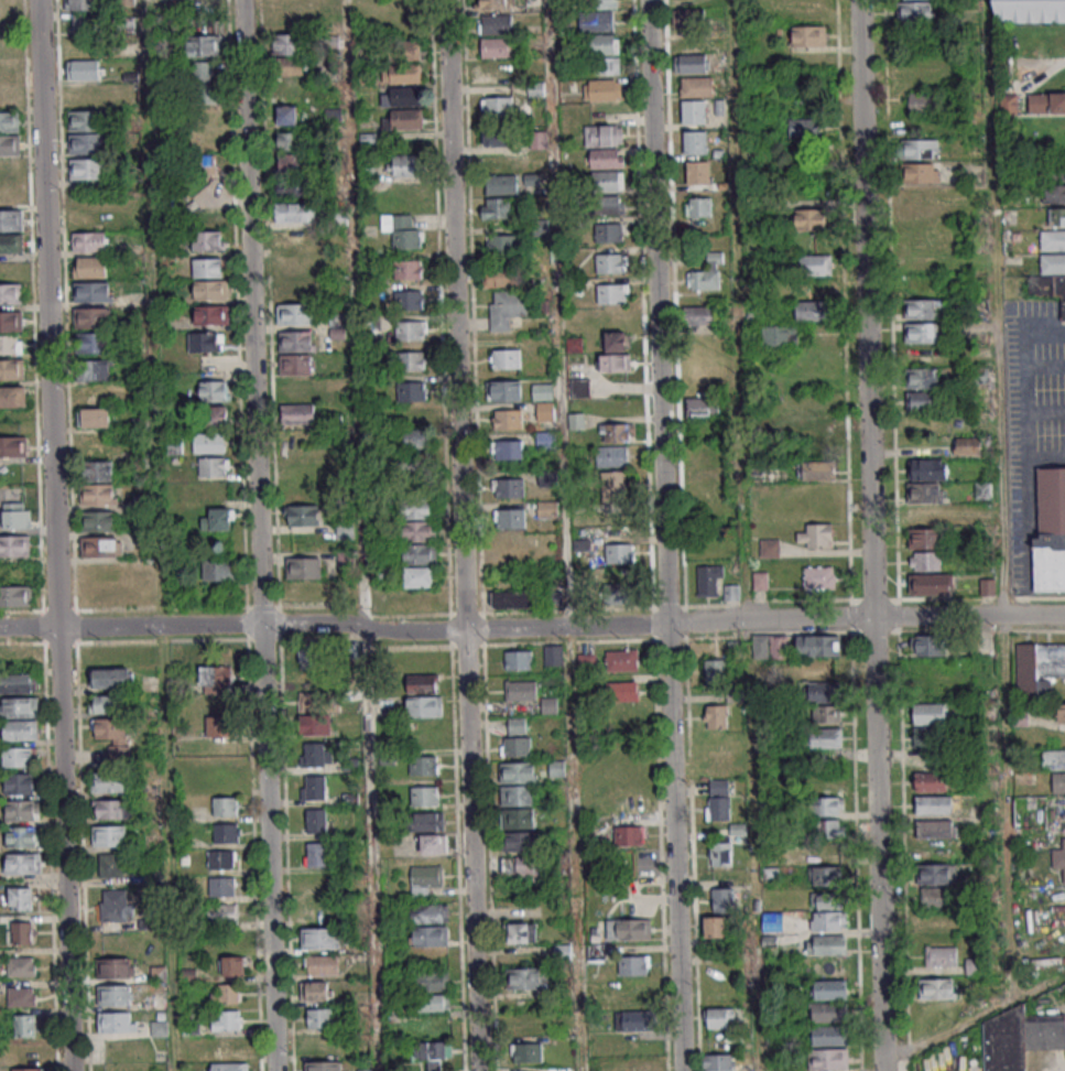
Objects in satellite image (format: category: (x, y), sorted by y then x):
building: (493, 3)
building: (605, 3)
building: (81, 4)
building: (1030, 11)
building: (912, 12)
building: (687, 19)
building: (595, 22)
building: (89, 23)
building: (495, 25)
building: (807, 36)
building: (287, 43)
building: (204, 44)
building: (602, 45)
building: (496, 48)
building: (400, 52)
building: (688, 64)
building: (289, 66)
building: (607, 67)
building: (84, 69)
building: (495, 71)
building: (401, 75)
building: (204, 84)
building: (696, 88)
building: (601, 91)
building: (401, 98)
building: (1009, 102)
building: (1046, 102)
building: (923, 104)
building: (498, 108)
building: (693, 113)
building: (287, 115)
building: (207, 118)
building: (85, 120)
building: (402, 120)
building: (9, 121)
building: (803, 129)
building: (600, 136)
building: (289, 140)
building: (496, 140)
building: (9, 143)
building: (85, 143)
building: (694, 143)
building: (921, 150)
building: (605, 160)
building: (294, 162)
building: (498, 162)
building: (203, 164)
building: (405, 165)
building: (87, 167)
building: (366, 169)
building: (1054, 171)
building: (921, 172)
building: (696, 174)
building: (604, 182)
building: (499, 185)
building: (209, 188)
building: (915, 194)
building: (1054, 194)
building: (10, 195)
building: (605, 206)
building: (699, 207)
building: (496, 209)
building: (292, 212)
building: (1055, 216)
building: (11, 220)
building: (812, 220)
building: (401, 231)
building: (608, 234)
building: (207, 240)
building: (89, 241)
building: (1052, 241)
building: (11, 242)
building: (502, 246)
building: (609, 264)
building: (1052, 264)
building: (90, 267)
building: (208, 267)
building: (814, 267)
building: (406, 270)
building: (497, 278)
building: (704, 281)
building: (296, 290)
building: (91, 291)
building: (209, 292)
building: (11, 293)
building: (609, 295)
building: (407, 301)
road: (32, 304)
road: (65, 305)
building: (509, 309)
building: (921, 310)
building: (812, 312)
building: (211, 314)
building: (700, 314)
building: (293, 315)
road: (455, 315)
building: (93, 317)
road: (236, 318)
building: (10, 321)
road: (439, 323)
building: (337, 326)
building: (409, 332)
building: (920, 335)
building: (779, 336)
building: (205, 342)
building: (617, 342)
building: (94, 343)
building: (294, 343)
building: (10, 344)
building: (922, 354)
building: (506, 360)
building: (615, 361)
building: (410, 363)
building: (294, 366)
building: (11, 368)
building: (94, 369)
building: (921, 379)
building: (580, 388)
building: (214, 390)
building: (542, 390)
building: (410, 392)
building: (506, 392)
building: (12, 396)
building: (922, 402)
building: (702, 408)
road: (475, 409)
building: (545, 411)
building: (298, 414)
building: (94, 416)
building: (216, 416)
building: (577, 420)
building: (508, 421)
building: (140, 422)
building: (814, 426)
building: (617, 432)
building: (417, 439)
building: (546, 439)
building: (209, 442)
building: (173, 445)
building: (969, 445)
building: (12, 446)
building: (504, 451)
building: (610, 457)
building: (412, 464)
building: (214, 466)
building: (928, 469)
building: (99, 470)
building: (817, 472)
building: (613, 488)
building: (509, 489)
building: (984, 490)
building: (98, 494)
road: (999, 500)
building: (546, 508)
building: (415, 510)
building: (17, 515)
building: (302, 515)
building: (925, 515)
building: (218, 519)
building: (98, 520)
building: (510, 520)
building: (416, 533)
building: (1050, 533)
road: (54, 535)
road: (157, 535)
road: (258, 535)
road: (360, 535)
road: (566, 535)
road: (664, 535)
road: (745, 535)
building: (815, 535)
road: (870, 535)
building: (14, 545)
building: (101, 545)
building: (769, 548)
building: (512, 551)
building: (620, 553)
building: (416, 555)
building: (925, 560)
building: (304, 567)
building: (218, 569)
building: (817, 578)
building: (417, 580)
building: (761, 580)
building: (709, 581)
building: (927, 586)
building: (987, 586)
building: (619, 593)
building: (731, 593)
building: (15, 595)
building: (511, 599)
road: (160, 608)
road: (968, 616)
road: (769, 620)
road: (246, 623)
road: (232, 625)
road: (75, 627)
road: (565, 627)
road: (279, 639)
road: (161, 640)
road: (567, 642)
building: (818, 645)
building: (927, 645)
building: (770, 646)
building: (553, 654)
building: (312, 656)
building: (517, 659)
building: (586, 660)
building: (621, 660)
building: (1037, 667)
building: (715, 670)
building: (215, 675)
building: (112, 677)
building: (18, 683)
building: (422, 683)
building: (622, 691)
building: (519, 692)
building: (822, 693)
building: (311, 701)
building: (104, 703)
building: (19, 706)
building: (424, 706)
building: (1061, 712)
building: (826, 713)
building: (927, 715)
building: (715, 716)
building: (315, 724)
building: (219, 725)
building: (20, 729)
building: (112, 735)
building: (517, 736)
building: (927, 738)
building: (824, 739)
building: (19, 757)
building: (312, 757)
building: (424, 765)
building: (1055, 767)
building: (515, 773)
building: (109, 781)
building: (19, 782)
building: (826, 782)
building: (930, 783)
building: (313, 789)
building: (424, 796)
building: (515, 797)
building: (718, 799)
building: (226, 805)
building: (828, 805)
building: (933, 807)
building: (22, 809)
building: (115, 809)
building: (515, 820)
building: (427, 821)
building: (314, 822)
building: (827, 829)
building: (933, 831)
building: (227, 832)
building: (109, 834)
building: (629, 834)
building: (21, 835)
building: (434, 843)
building: (517, 844)
road: (471, 851)
building: (827, 851)
building: (720, 853)
building: (315, 856)
road: (81, 857)
building: (221, 858)
road: (490, 858)
building: (1058, 859)
building: (23, 863)
building: (110, 864)
building: (524, 868)
building: (933, 873)
building: (826, 875)
building: (425, 877)
building: (221, 886)
building: (21, 897)
building: (936, 897)
building: (722, 898)
building: (115, 905)
building: (829, 911)
building: (221, 912)
building: (428, 913)
building: (772, 921)
building: (715, 926)
building: (628, 929)
building: (22, 932)
building: (522, 932)
building: (428, 935)
building: (319, 938)
building: (825, 946)
building: (562, 950)
building: (596, 953)
building: (941, 955)
building: (21, 965)
building: (232, 965)
building: (632, 965)
building: (322, 966)
building: (118, 967)
building: (526, 977)
building: (432, 981)
building: (937, 987)
building: (827, 992)
building: (227, 993)
building: (117, 994)
building: (313, 994)
building: (21, 996)
building: (433, 1003)
building: (827, 1014)
building: (319, 1017)
building: (717, 1018)
building: (227, 1020)
building: (634, 1020)
building: (115, 1021)
building: (522, 1024)
road: (968, 1024)
building: (25, 1025)
building: (160, 1025)
building: (828, 1037)
building: (1020, 1038)
building: (230, 1046)
building: (30, 1050)
building: (528, 1051)
building: (432, 1052)
building: (826, 1060)
building: (718, 1062)
building: (640, 1063)
building: (323, 1065)
building: (229, 1067)
road: (1057, 1067)
building: (28, 1069)

